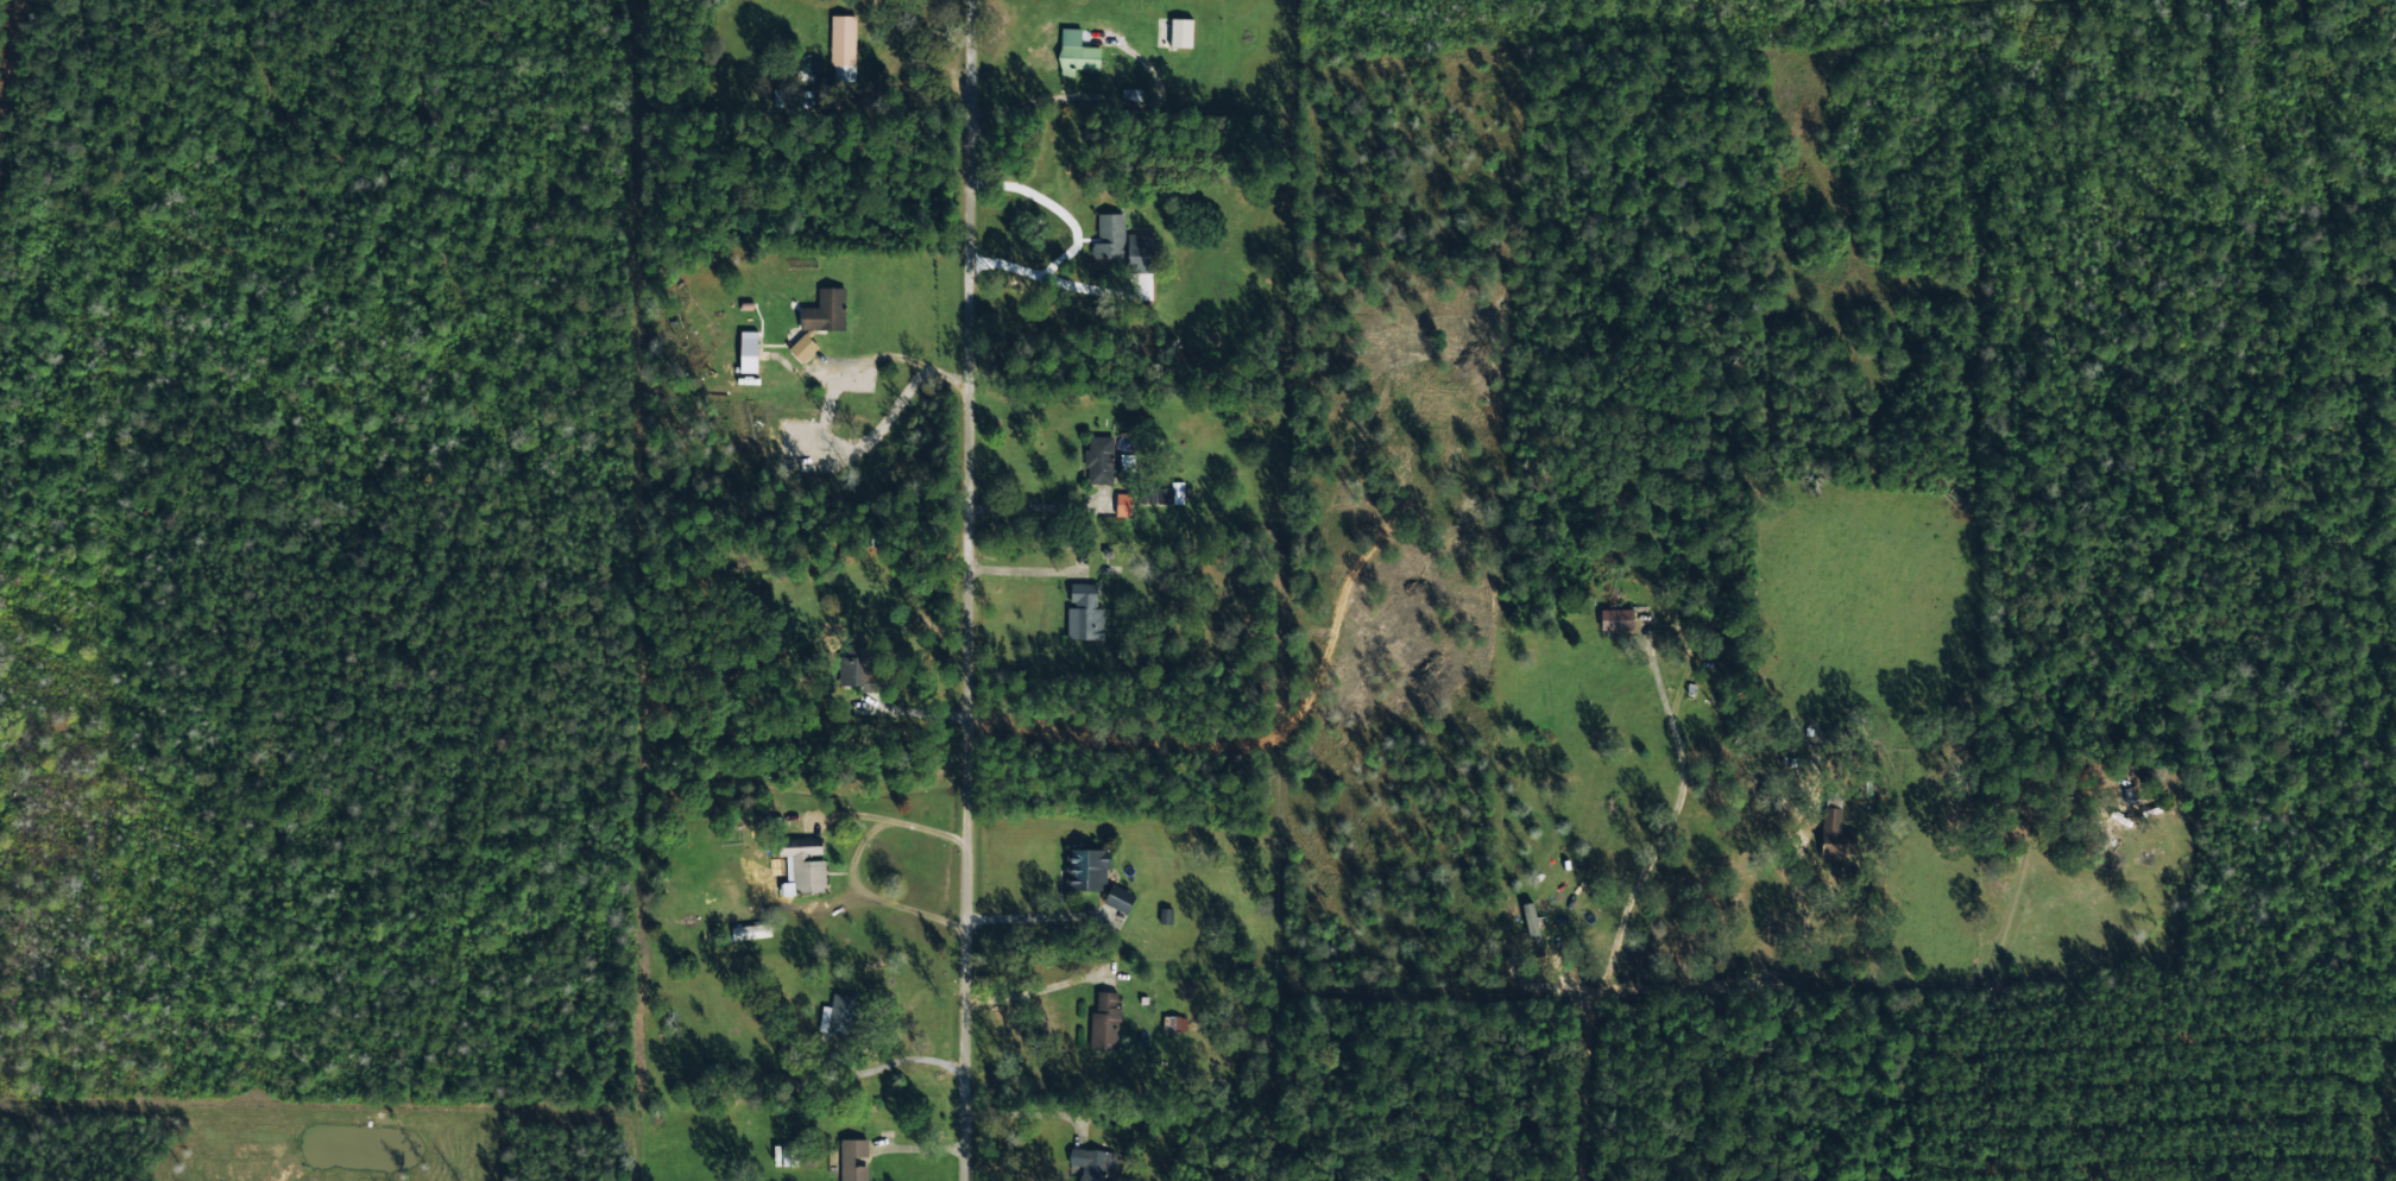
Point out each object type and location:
building: (1180, 32)
railway: (5, 33)
building: (843, 46)
building: (1076, 52)
building: (1121, 241)
building: (820, 316)
building: (748, 349)
building: (1101, 457)
building: (1160, 492)
building: (1122, 503)
road: (979, 589)
building: (1084, 612)
building: (1616, 618)
building: (2130, 802)
building: (1836, 836)
building: (802, 865)
building: (1086, 867)
building: (1120, 897)
building: (1532, 927)
building: (840, 1012)
building: (1105, 1019)
building: (1179, 1023)
building: (852, 1158)
building: (1092, 1161)

